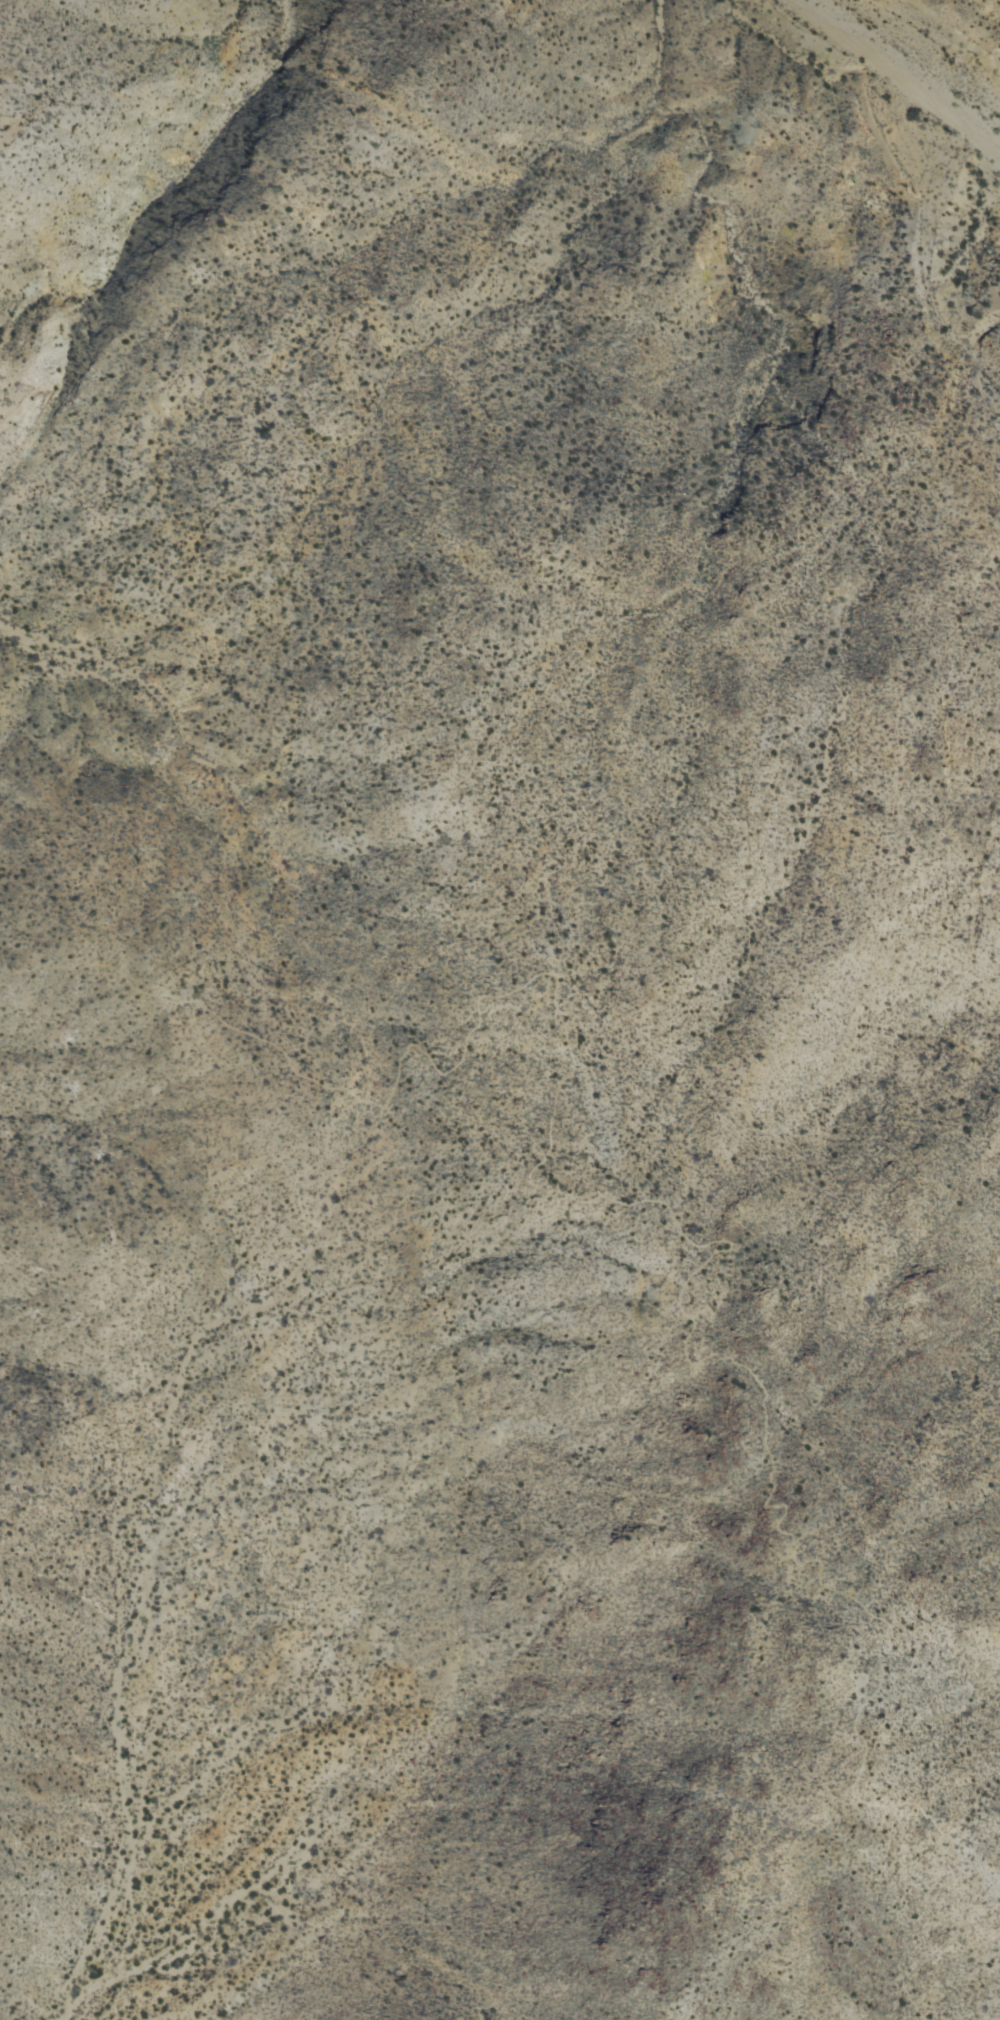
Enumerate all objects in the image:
road: (905, 74)
road: (657, 1203)

